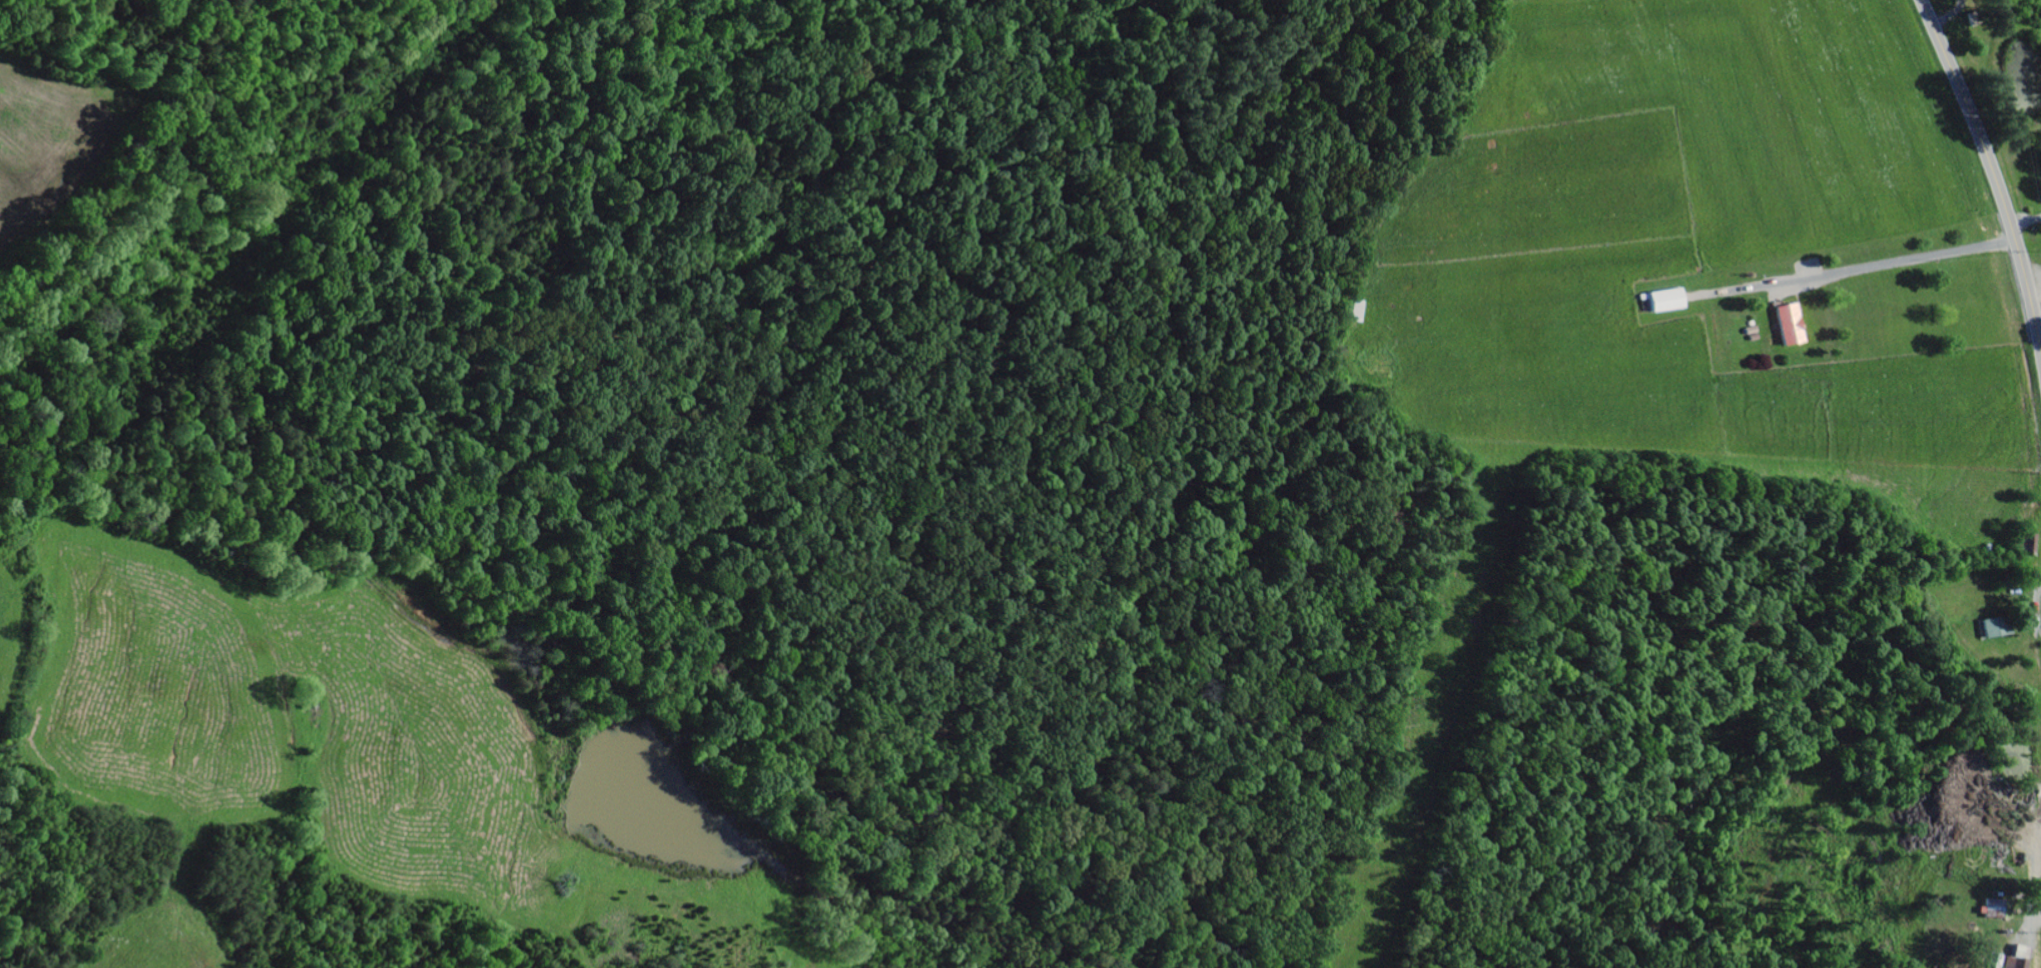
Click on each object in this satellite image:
road: (1992, 168)
building: (1663, 299)
building: (1785, 323)
building: (1994, 626)
building: (1989, 908)
building: (2013, 963)

